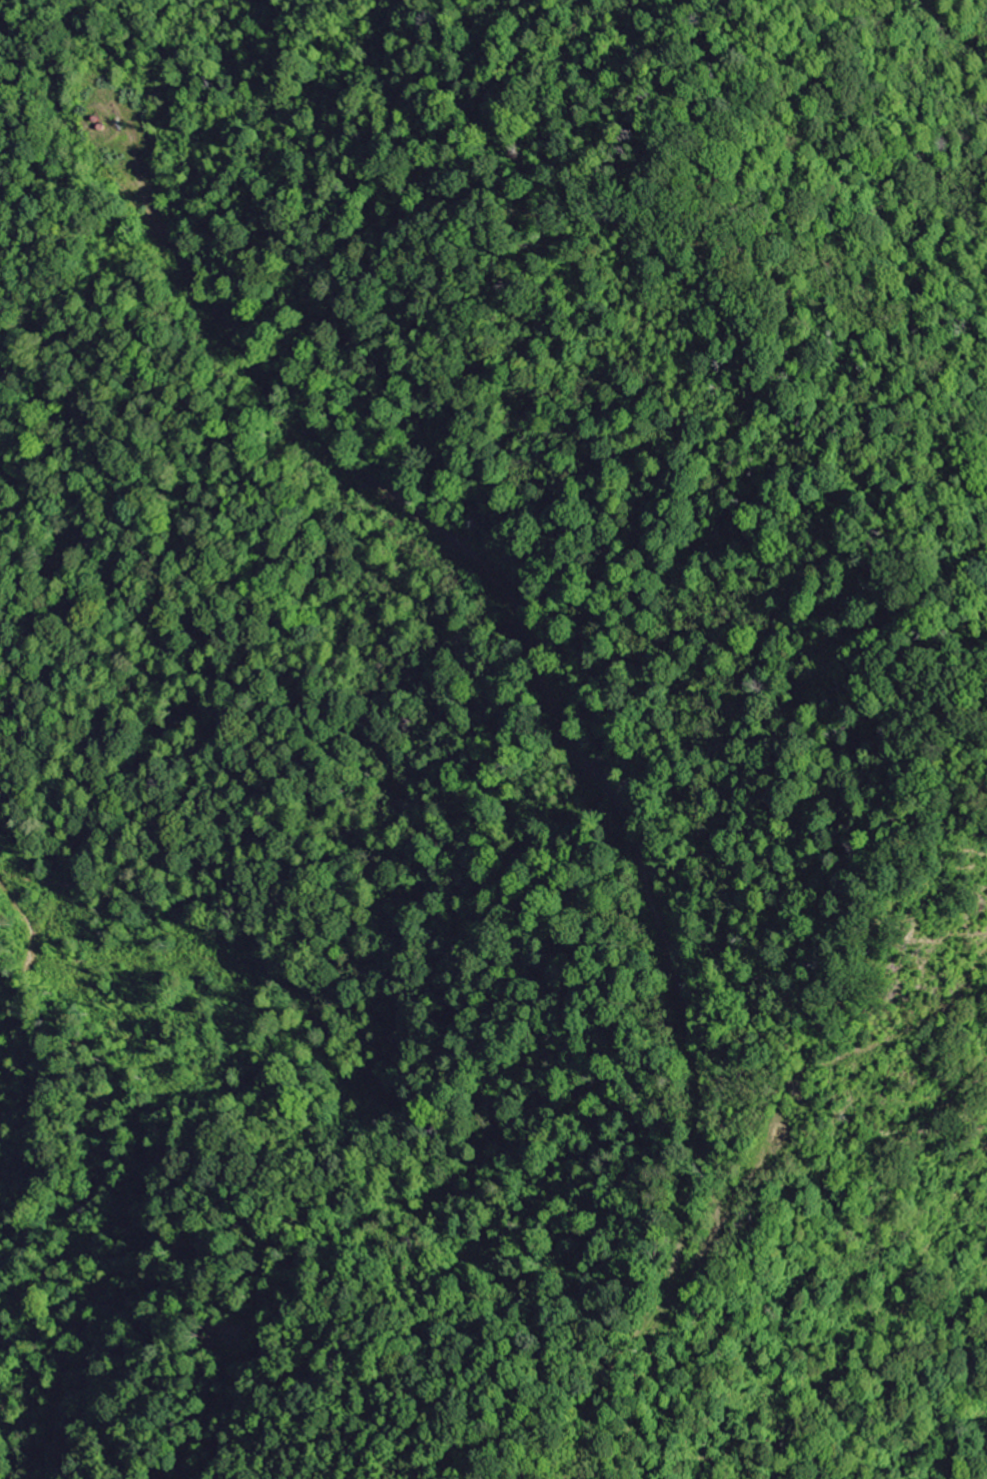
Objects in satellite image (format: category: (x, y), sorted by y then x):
road: (148, 81)

